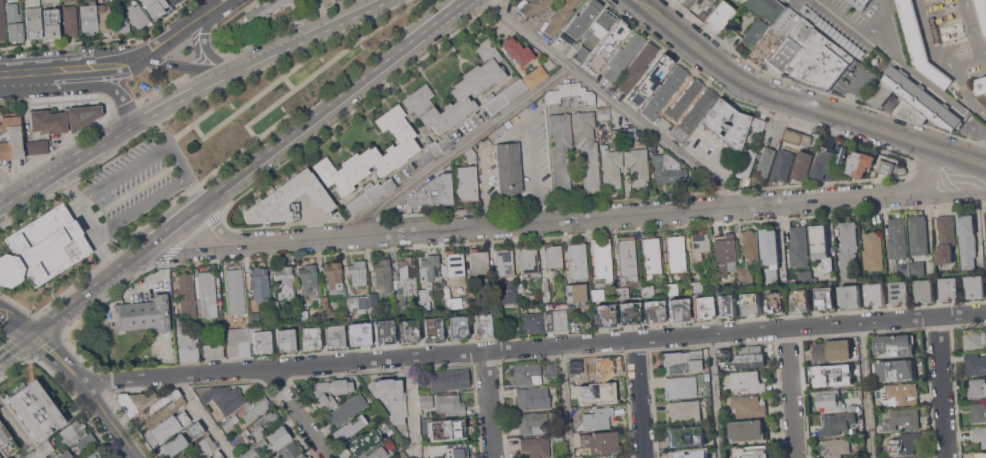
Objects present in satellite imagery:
building: (64, 0)
building: (292, 0)
building: (580, 0)
building: (678, 0)
building: (783, 0)
building: (50, 1)
building: (174, 2)
building: (687, 3)
building: (859, 4)
building: (155, 6)
building: (535, 7)
building: (763, 9)
building: (263, 10)
building: (981, 14)
building: (137, 16)
building: (560, 16)
building: (719, 16)
building: (89, 17)
building: (33, 19)
building: (106, 19)
building: (582, 19)
building: (70, 20)
building: (2, 21)
building: (14, 22)
building: (52, 22)
road: (439, 24)
building: (123, 25)
road: (182, 28)
road: (972, 30)
building: (594, 33)
building: (753, 33)
building: (773, 34)
building: (790, 43)
building: (920, 44)
building: (607, 46)
road: (208, 49)
building: (517, 51)
building: (805, 54)
building: (623, 56)
road: (946, 61)
road: (246, 64)
road: (185, 65)
building: (827, 65)
road: (321, 67)
building: (636, 68)
road: (972, 68)
road: (72, 70)
road: (916, 72)
building: (535, 76)
building: (651, 80)
road: (288, 82)
road: (78, 83)
building: (979, 85)
park: (280, 91)
building: (458, 91)
building: (664, 92)
building: (570, 93)
road: (849, 94)
building: (881, 95)
building: (504, 96)
building: (922, 99)
road: (613, 101)
building: (682, 101)
road: (801, 103)
road: (244, 105)
building: (911, 112)
building: (604, 113)
building: (694, 115)
building: (64, 118)
road: (306, 124)
road: (190, 125)
building: (726, 125)
building: (758, 125)
building: (498, 131)
building: (630, 133)
building: (11, 136)
building: (797, 138)
building: (37, 147)
road: (459, 147)
building: (434, 149)
building: (588, 149)
road: (239, 150)
building: (561, 150)
road: (83, 154)
building: (373, 154)
building: (470, 155)
road: (178, 157)
road: (985, 158)
building: (828, 159)
building: (766, 161)
building: (745, 162)
building: (856, 162)
building: (802, 165)
building: (638, 166)
building: (783, 166)
building: (611, 167)
building: (888, 167)
building: (509, 168)
building: (667, 169)
road: (533, 172)
road: (924, 177)
road: (42, 180)
parking lot: (131, 184)
building: (468, 184)
road: (8, 185)
road: (69, 186)
building: (433, 191)
building: (370, 195)
road: (942, 196)
road: (13, 198)
building: (290, 199)
road: (1, 206)
building: (985, 217)
road: (579, 218)
road: (84, 220)
road: (173, 225)
road: (223, 232)
building: (918, 234)
building: (897, 238)
building: (945, 239)
building: (967, 241)
building: (699, 245)
building: (750, 245)
building: (799, 246)
building: (42, 247)
building: (821, 247)
building: (848, 250)
building: (873, 251)
road: (201, 252)
building: (676, 254)
building: (552, 255)
building: (722, 255)
building: (627, 256)
building: (770, 256)
building: (651, 257)
building: (603, 259)
building: (577, 260)
building: (479, 261)
building: (504, 261)
building: (529, 261)
building: (985, 262)
building: (455, 263)
building: (918, 265)
building: (431, 267)
building: (902, 269)
building: (358, 273)
building: (383, 273)
building: (332, 274)
building: (745, 274)
building: (408, 275)
building: (806, 276)
building: (308, 277)
building: (259, 282)
building: (285, 282)
building: (717, 285)
building: (520, 286)
building: (696, 287)
building: (975, 287)
building: (950, 288)
building: (671, 289)
building: (546, 290)
road: (86, 291)
building: (236, 291)
building: (647, 291)
building: (924, 291)
building: (623, 292)
building: (900, 292)
building: (576, 293)
building: (187, 294)
building: (208, 294)
building: (450, 294)
building: (505, 294)
building: (598, 294)
building: (875, 294)
building: (850, 296)
building: (373, 298)
building: (825, 299)
building: (801, 300)
building: (424, 301)
building: (358, 303)
building: (453, 303)
building: (777, 303)
building: (752, 304)
building: (727, 306)
building: (401, 308)
building: (703, 308)
building: (329, 310)
building: (320, 311)
building: (653, 311)
building: (276, 312)
building: (628, 312)
building: (677, 312)
building: (145, 314)
building: (604, 315)
building: (303, 316)
building: (254, 318)
building: (556, 320)
building: (532, 321)
road: (15, 322)
building: (482, 324)
building: (458, 326)
building: (433, 328)
building: (409, 330)
building: (384, 331)
traffic signals: (30, 333)
building: (360, 333)
building: (335, 336)
building: (311, 338)
building: (975, 338)
building: (286, 340)
building: (187, 341)
building: (239, 342)
building: (261, 342)
road: (15, 343)
building: (895, 345)
road: (535, 346)
building: (213, 350)
building: (832, 351)
building: (724, 356)
road: (59, 358)
building: (751, 358)
building: (165, 359)
building: (682, 361)
building: (975, 365)
building: (575, 366)
building: (551, 368)
building: (602, 369)
building: (896, 370)
building: (527, 374)
building: (830, 374)
building: (447, 380)
building: (748, 382)
road: (940, 386)
building: (681, 387)
building: (977, 389)
road: (865, 390)
road: (790, 392)
building: (596, 393)
building: (708, 393)
building: (902, 394)
road: (715, 395)
building: (319, 396)
building: (390, 398)
building: (532, 398)
road: (639, 398)
building: (225, 399)
building: (164, 400)
building: (830, 400)
road: (565, 401)
building: (135, 402)
building: (426, 402)
road: (488, 404)
building: (450, 405)
road: (412, 407)
building: (747, 408)
building: (36, 409)
building: (255, 409)
building: (348, 409)
building: (165, 411)
building: (686, 411)
road: (299, 413)
building: (978, 413)
building: (144, 416)
road: (204, 416)
building: (599, 419)
building: (902, 419)
road: (111, 422)
building: (229, 422)
building: (265, 423)
building: (533, 424)
building: (836, 424)
building: (169, 427)
building: (350, 427)
building: (383, 428)
building: (143, 430)
building: (195, 430)
building: (447, 430)
road: (19, 431)
building: (73, 431)
building: (748, 431)
building: (980, 435)
building: (687, 436)
building: (279, 437)
building: (242, 439)
building: (6, 441)
building: (365, 441)
building: (600, 442)
building: (86, 443)
building: (904, 443)
building: (206, 445)
building: (173, 446)
building: (536, 447)
building: (835, 447)
building: (46, 448)
building: (257, 449)
building: (448, 450)
building: (290, 451)
building: (381, 452)
building: (752, 452)
road: (28, 454)
building: (64, 454)
building: (689, 454)
building: (95, 455)
building: (216, 455)
building: (402, 455)
building: (182, 456)
building: (980, 456)
building: (0, 457)
building: (52, 457)
building: (195, 457)
building: (303, 457)
building: (309, 457)
building: (915, 457)

